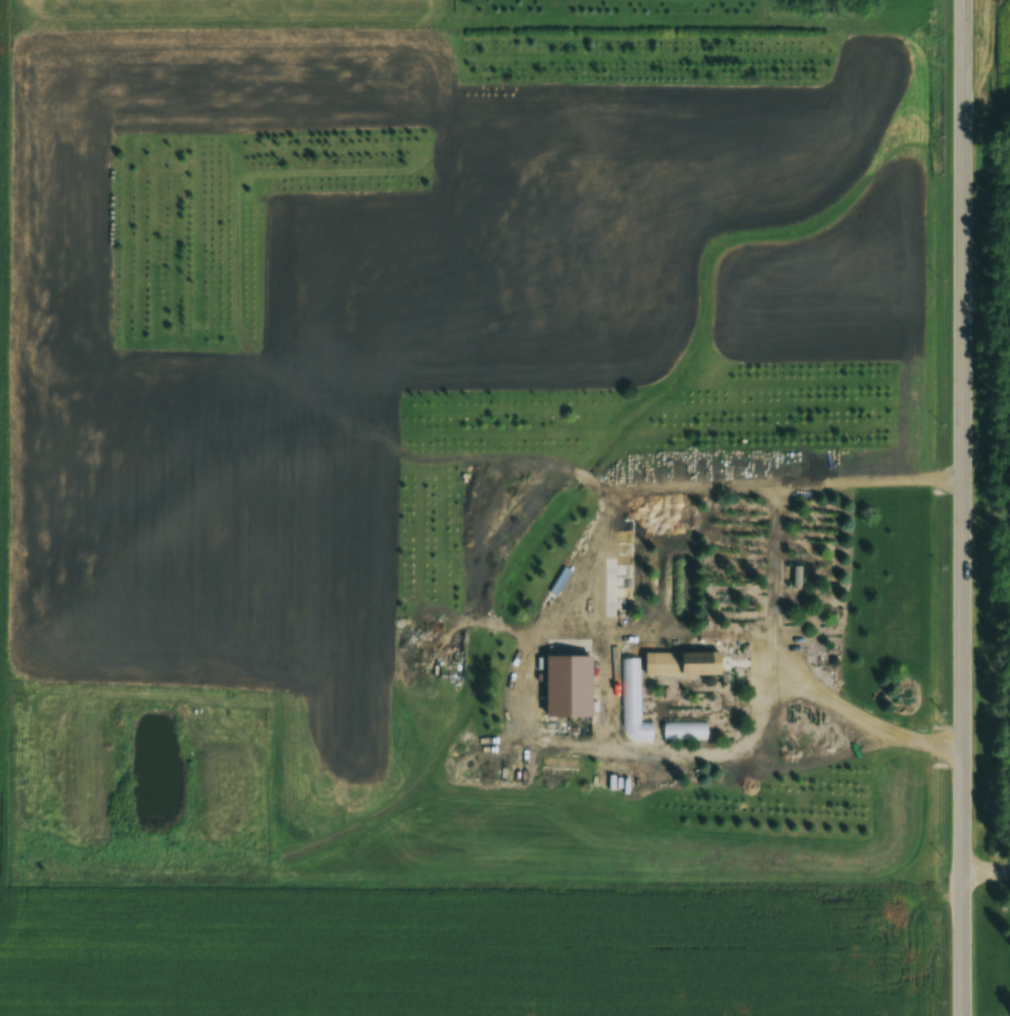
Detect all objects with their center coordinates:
road: (961, 508)
building: (679, 667)
building: (562, 692)
building: (627, 705)
building: (679, 732)

